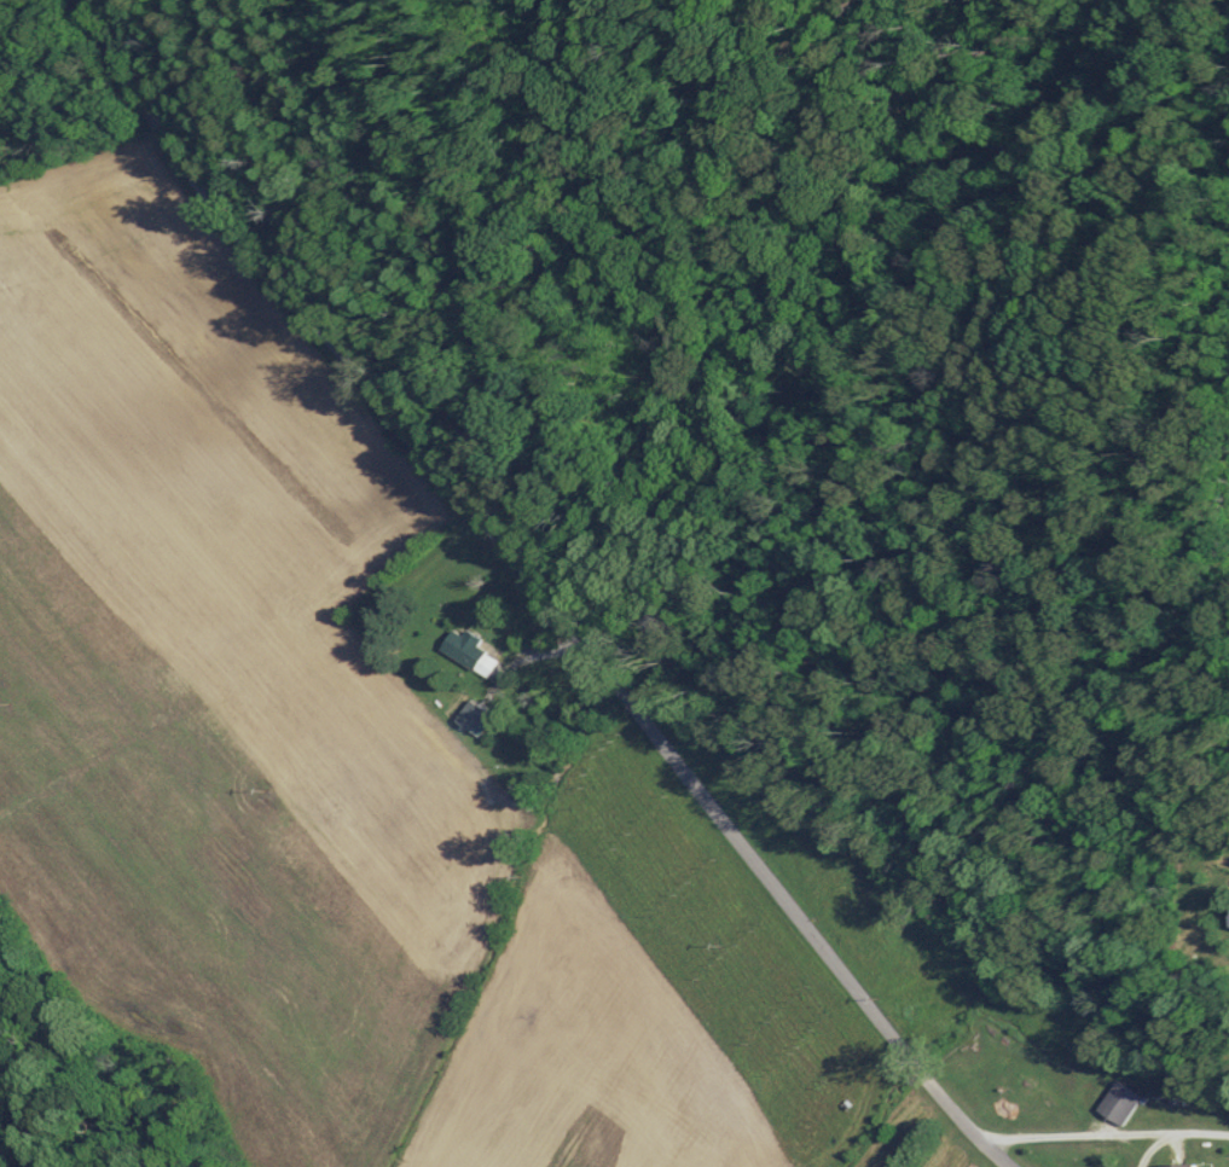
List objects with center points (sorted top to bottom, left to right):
road: (118, 53)
road: (582, 635)
building: (473, 651)
building: (477, 716)
building: (1225, 916)
building: (1114, 1103)
building: (1179, 1166)

